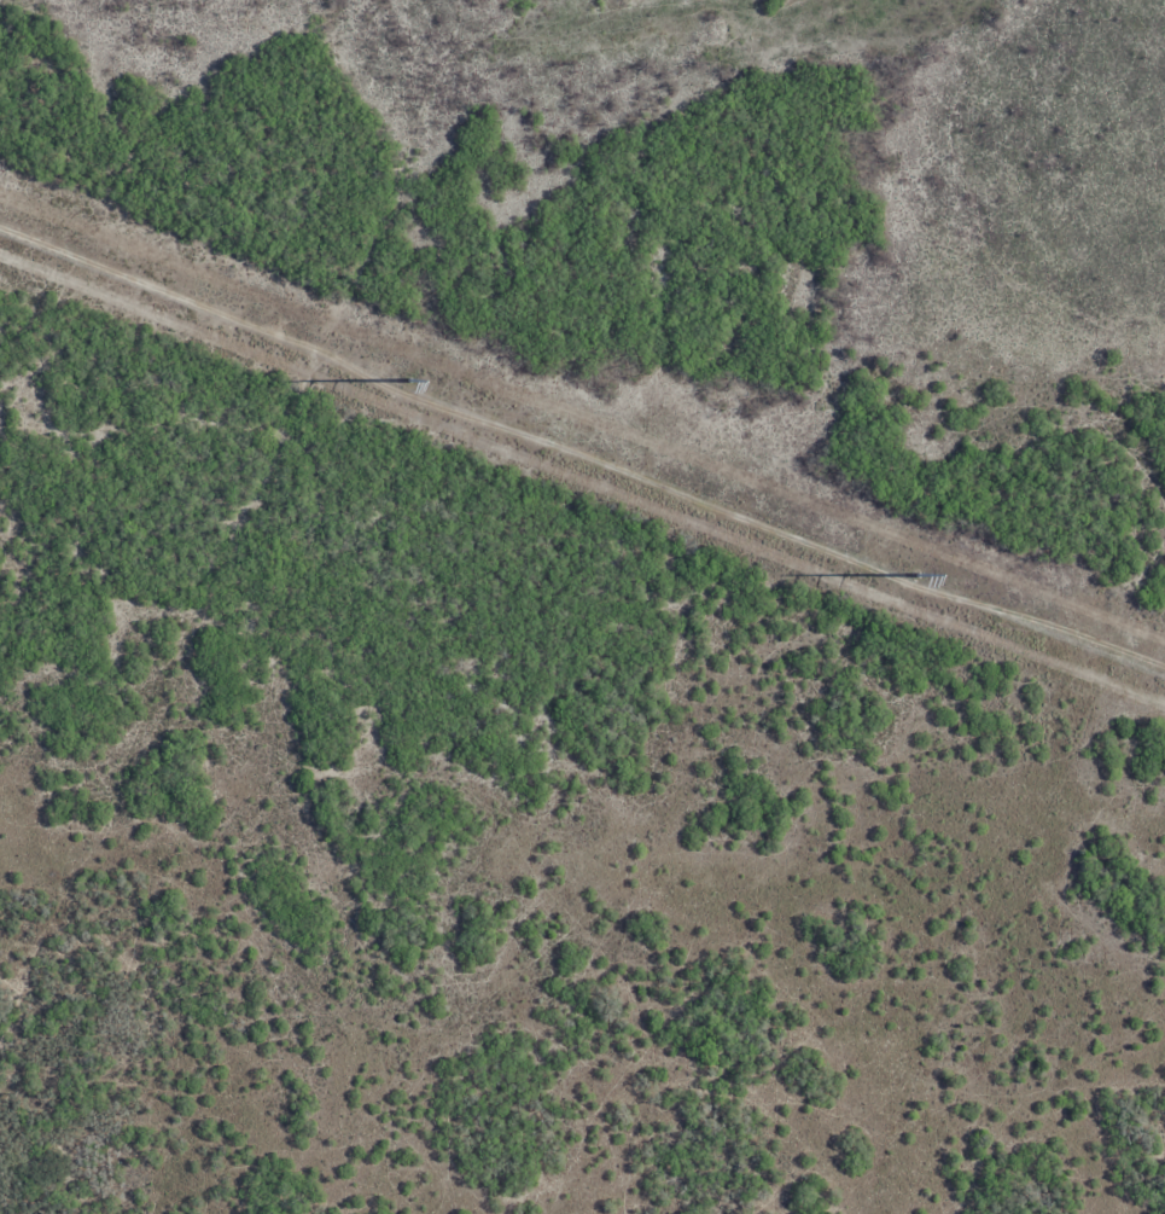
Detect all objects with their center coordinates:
power tower: (419, 385)
power tower: (927, 580)

